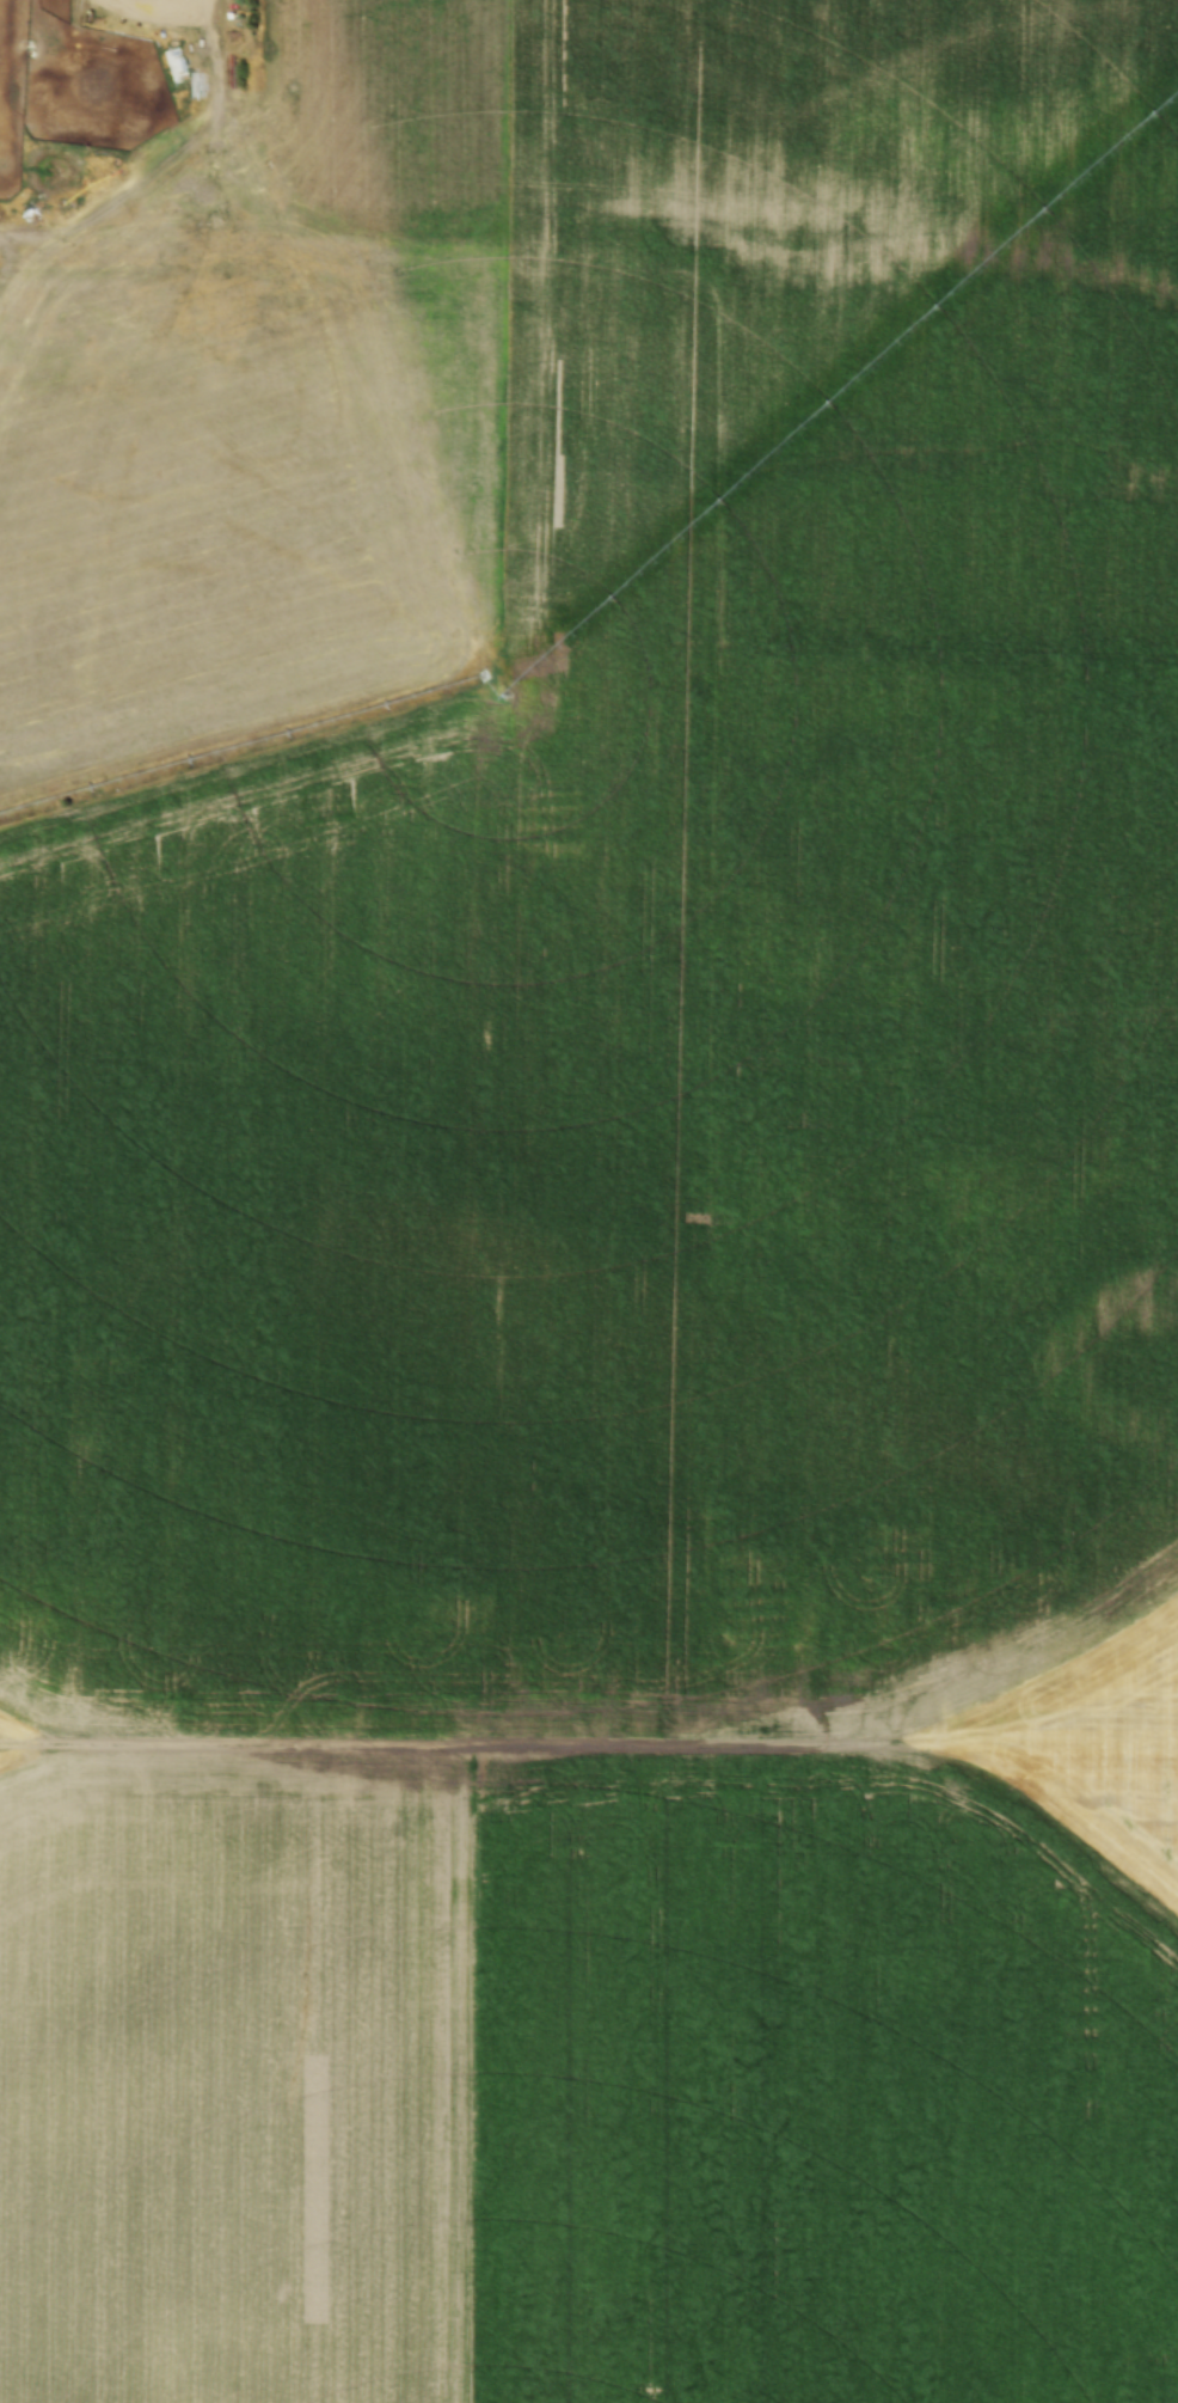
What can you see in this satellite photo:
road: (161, 17)
building: (99, 35)
building: (234, 96)
crop: (603, 1234)

